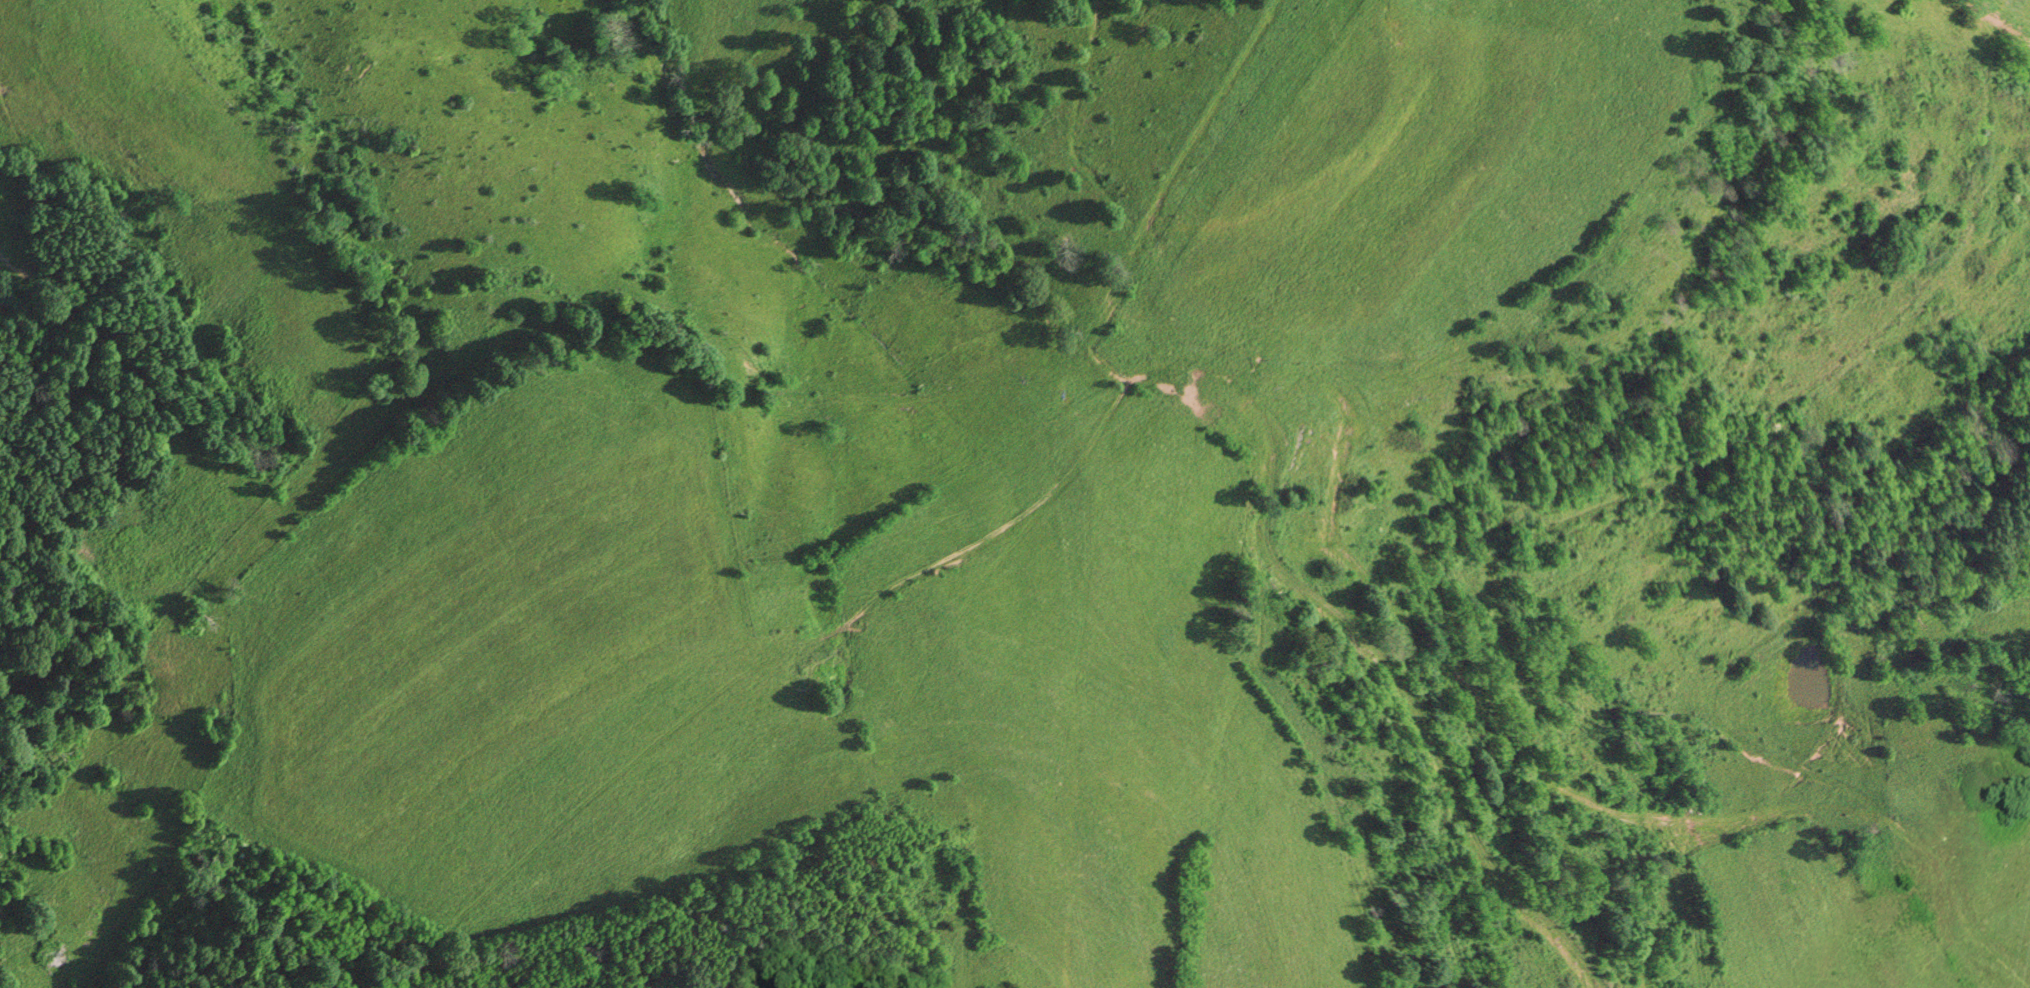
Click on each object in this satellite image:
road: (1271, 442)
building: (55, 967)

